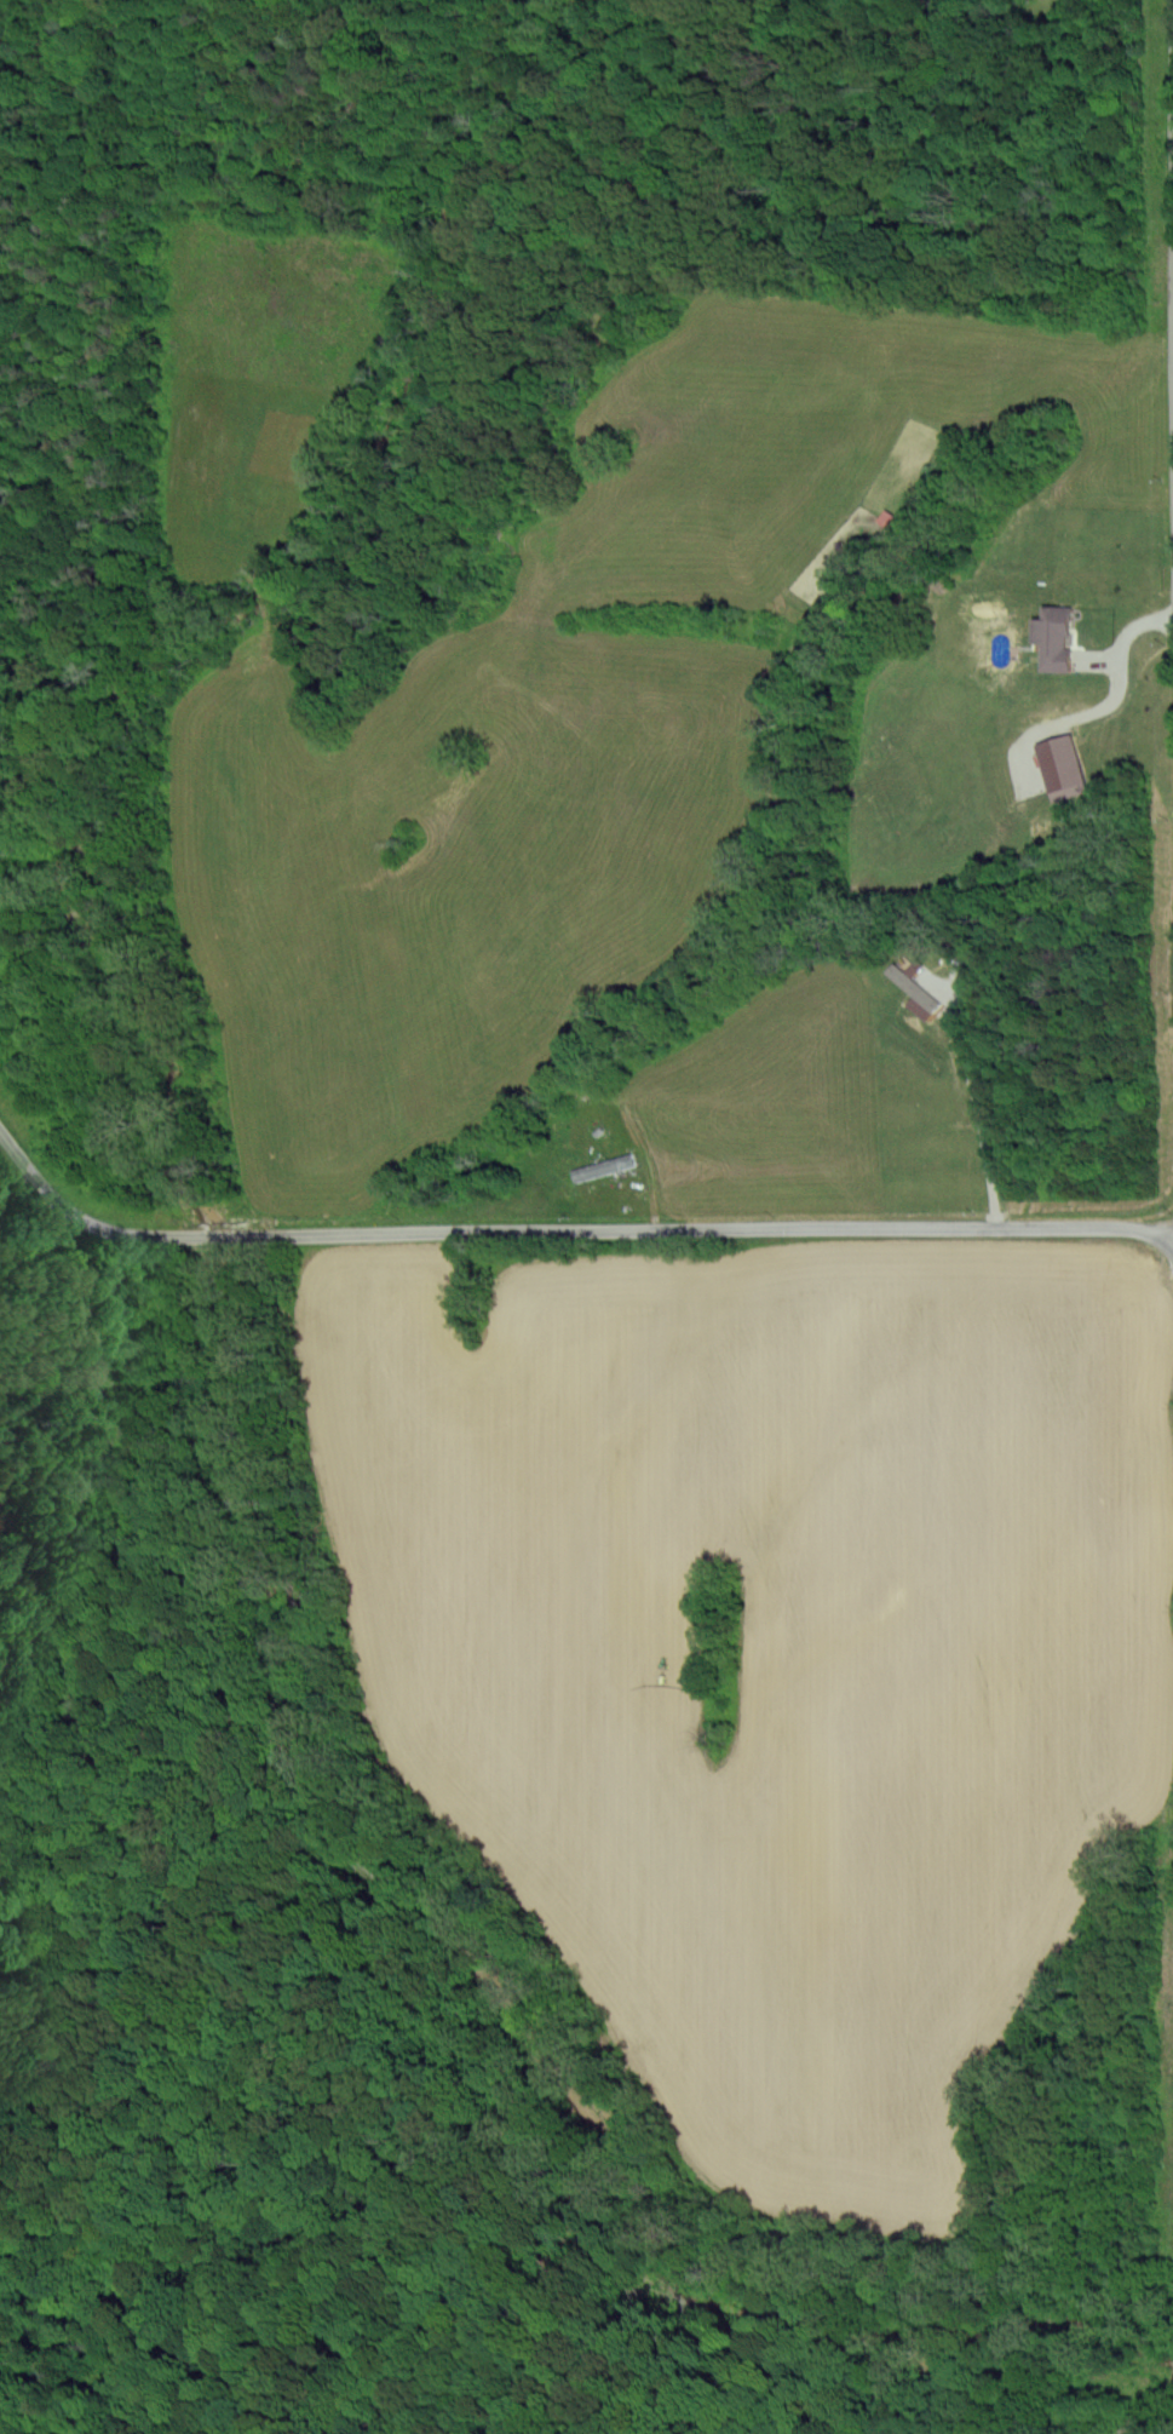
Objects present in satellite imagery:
building: (1050, 637)
building: (1058, 767)
building: (910, 989)
road: (70, 1196)
road: (667, 1222)

